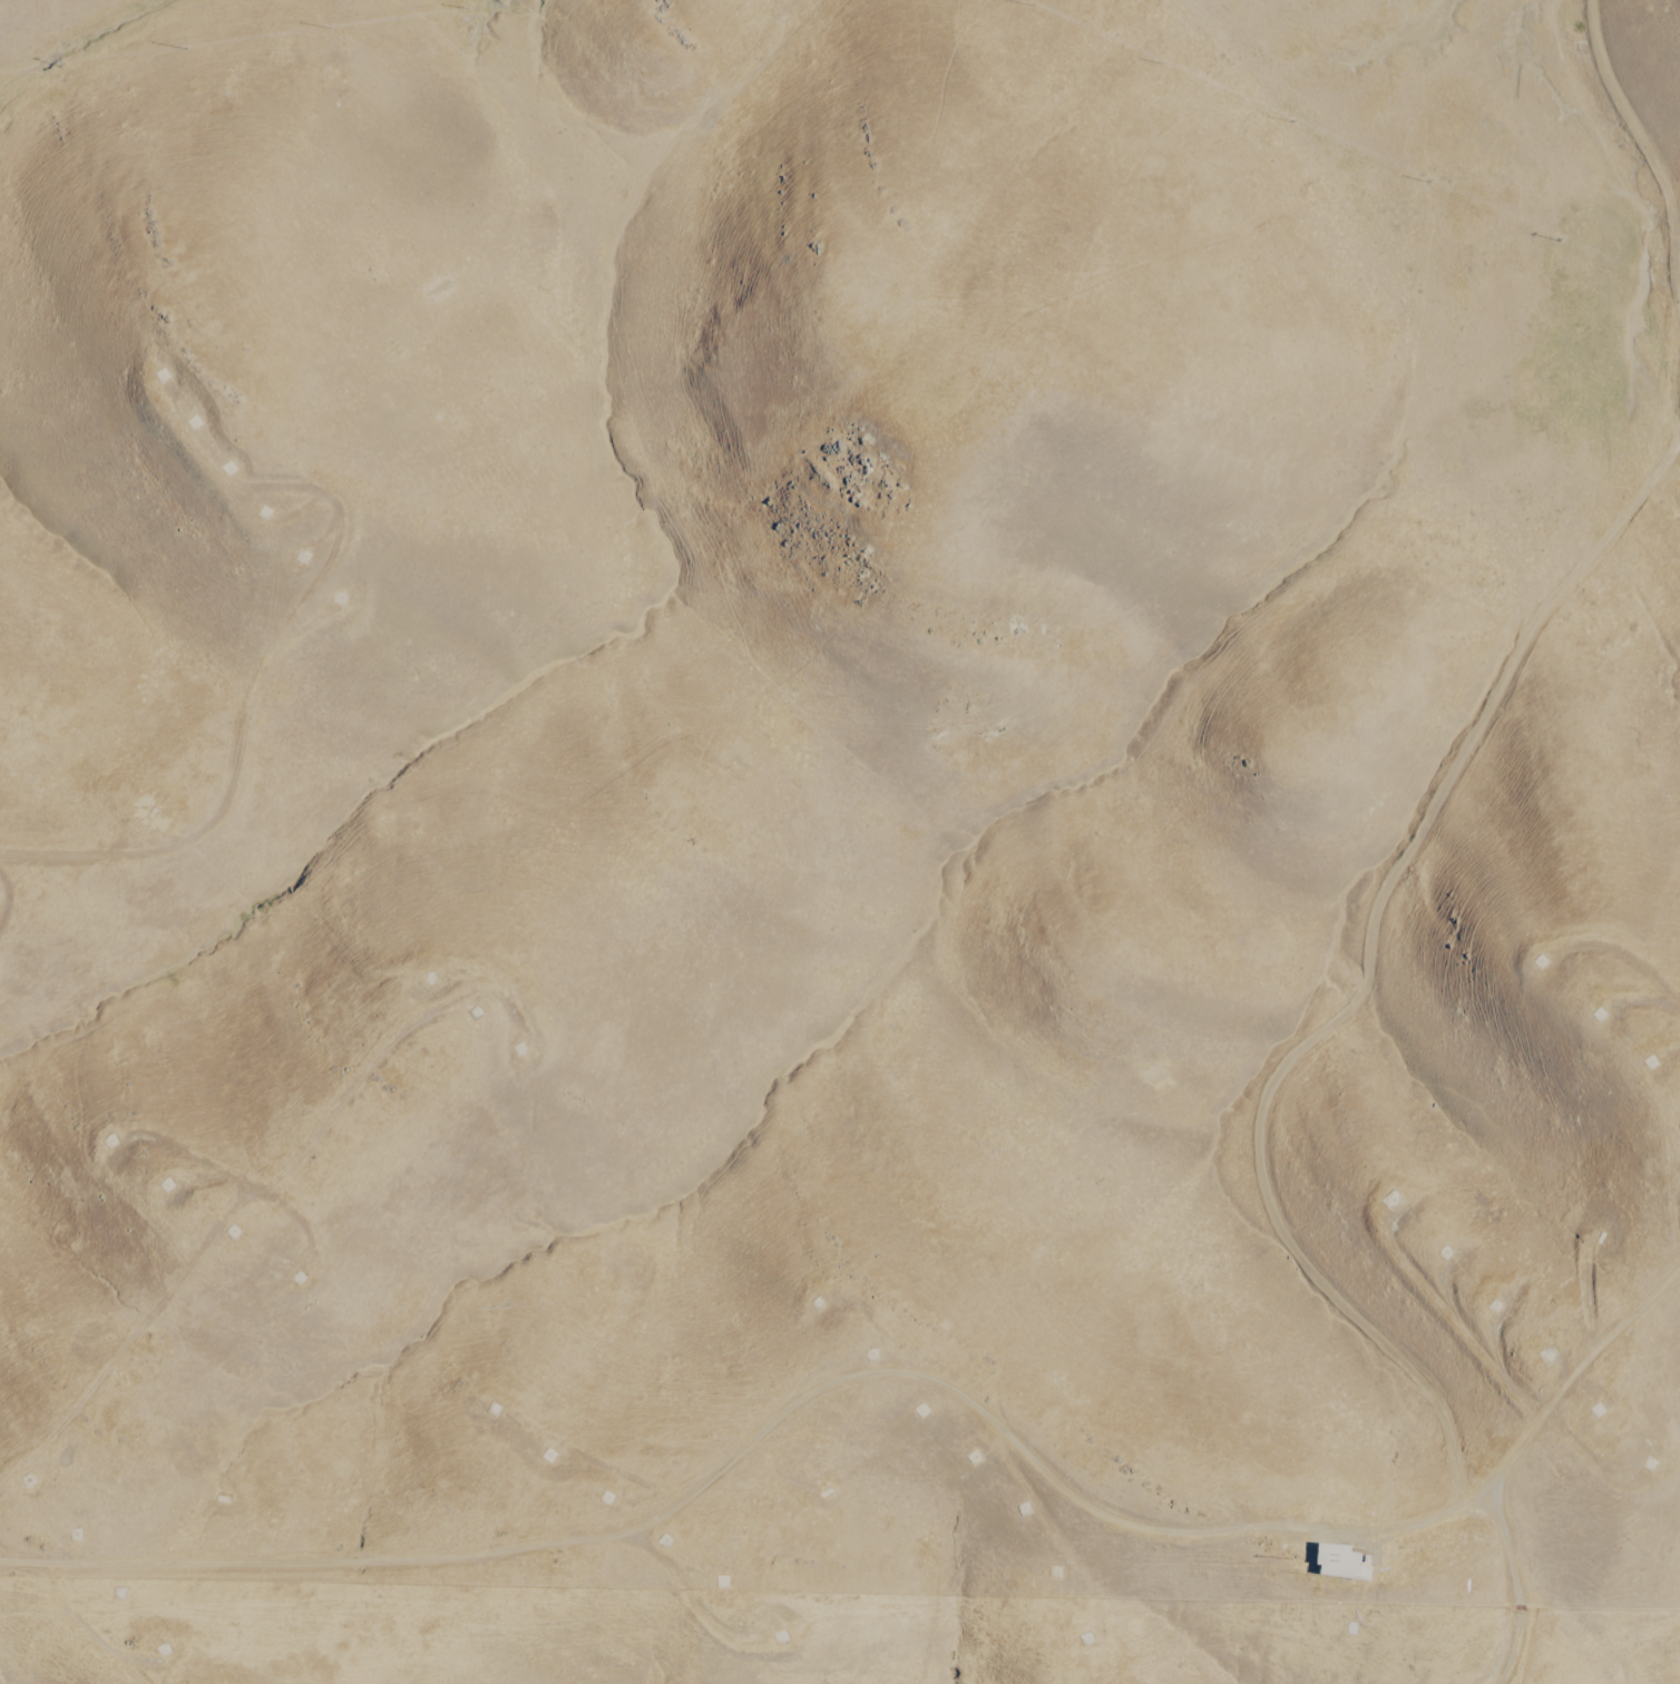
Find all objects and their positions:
road: (1504, 1459)
road: (1515, 1583)

